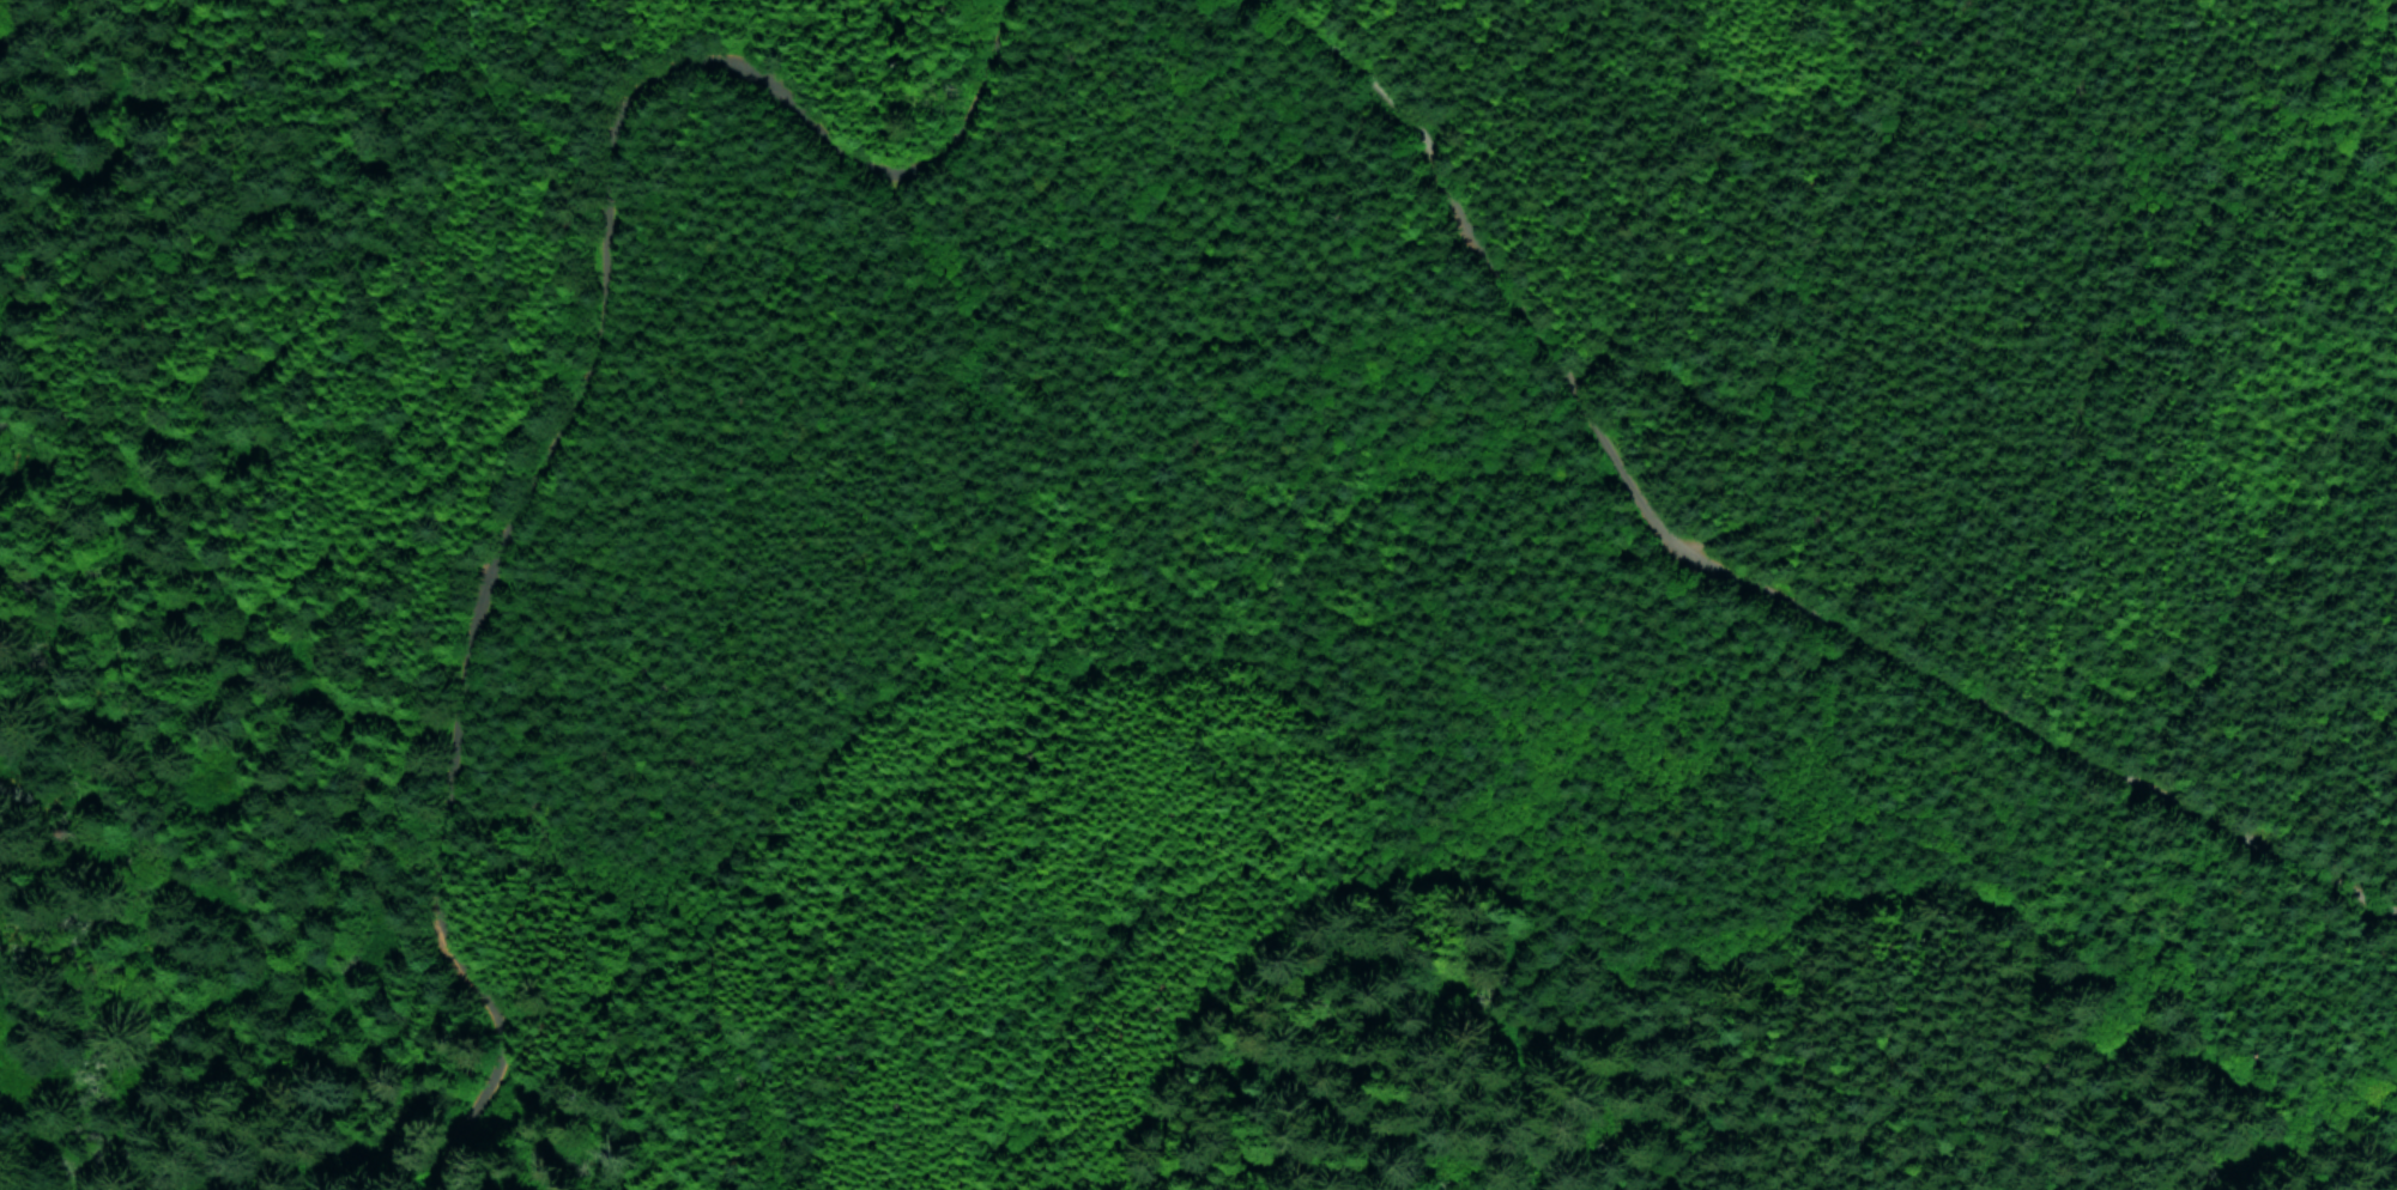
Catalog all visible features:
road: (1761, 261)
road: (563, 395)
road: (1714, 584)

